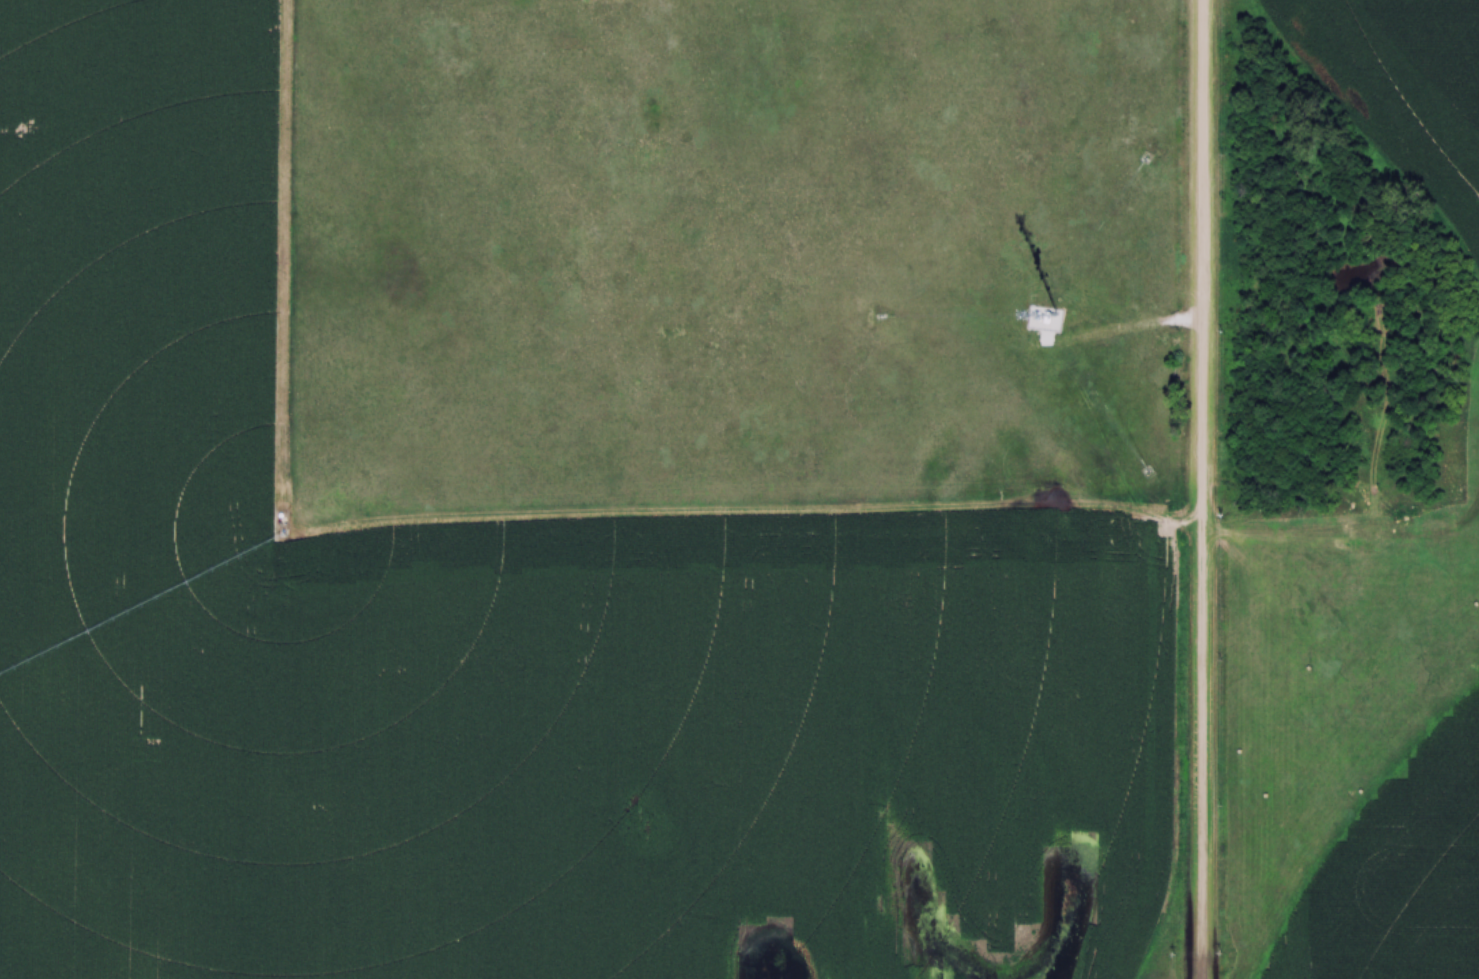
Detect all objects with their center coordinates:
road: (1201, 489)

